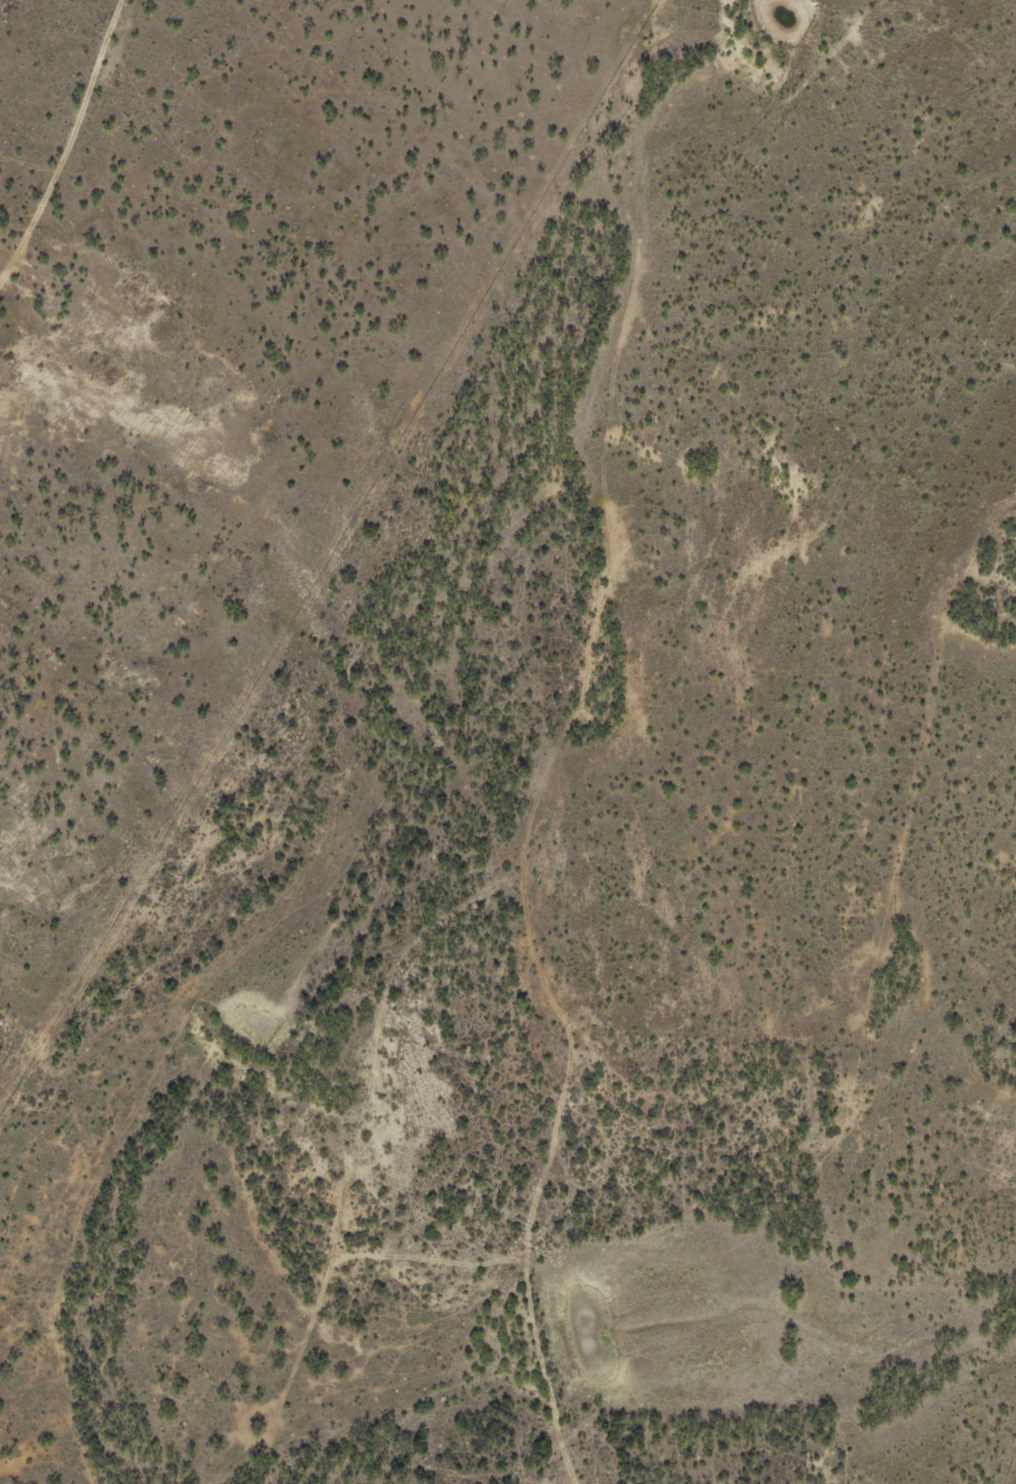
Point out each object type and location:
road: (99, 212)

